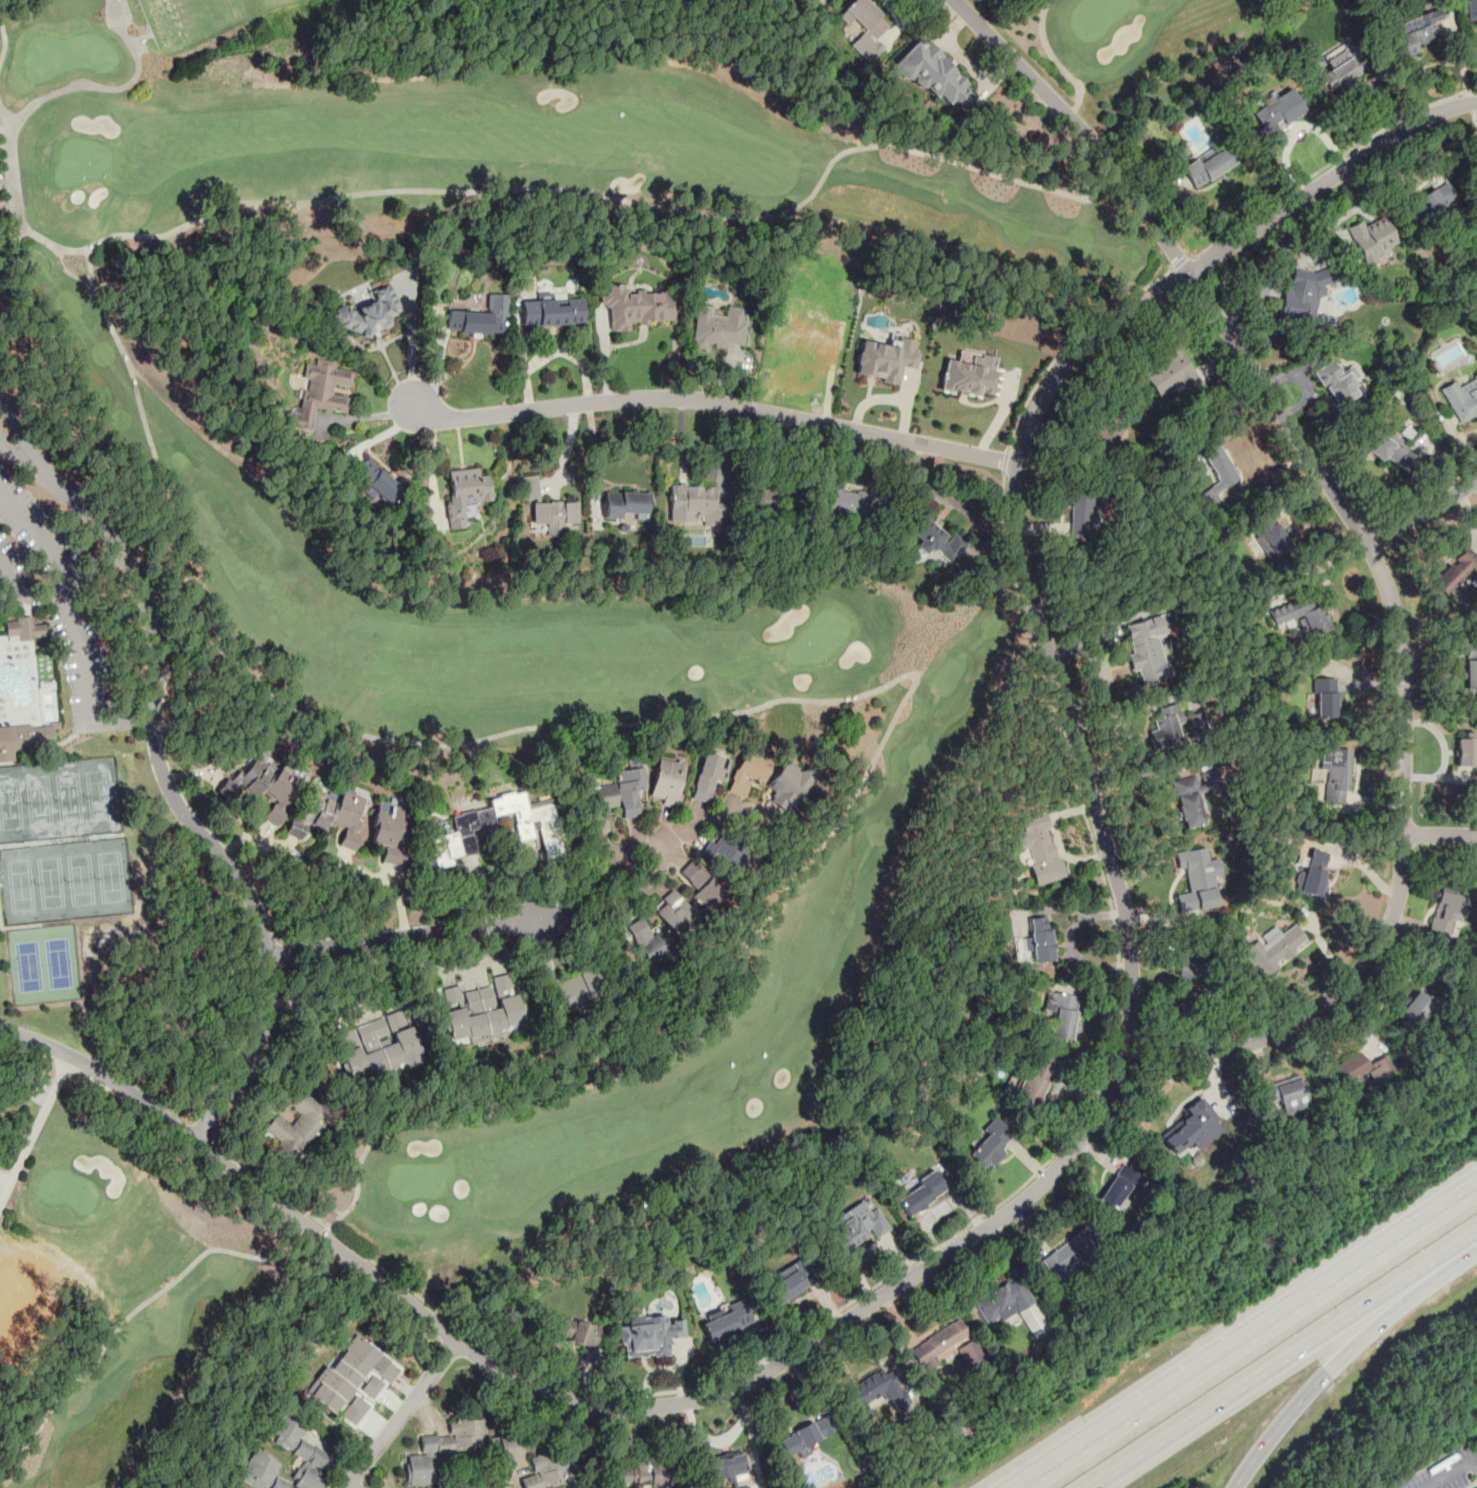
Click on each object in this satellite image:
building: (1470, 10)
building: (864, 27)
building: (1412, 32)
road: (3, 39)
road: (1052, 58)
building: (1341, 69)
building: (933, 74)
road: (111, 87)
road: (1071, 113)
road: (4, 116)
building: (1276, 116)
road: (1081, 137)
building: (1209, 165)
road: (1328, 165)
road: (545, 188)
building: (1426, 206)
building: (1372, 239)
road: (1180, 262)
road: (69, 272)
road: (1271, 280)
building: (1301, 296)
building: (639, 307)
building: (367, 312)
building: (551, 314)
building: (479, 319)
building: (719, 327)
building: (805, 329)
road: (1069, 343)
road: (411, 348)
building: (886, 359)
road: (439, 366)
building: (1172, 373)
building: (971, 377)
building: (1337, 384)
building: (320, 394)
building: (1463, 400)
road: (716, 401)
road: (18, 432)
building: (1100, 432)
building: (1386, 445)
road: (566, 451)
road: (16, 457)
road: (1003, 461)
road: (432, 468)
building: (1216, 473)
building: (377, 482)
building: (528, 487)
road: (926, 487)
building: (467, 491)
building: (771, 496)
building: (842, 501)
building: (694, 505)
building: (625, 507)
road: (1423, 513)
building: (551, 516)
building: (1083, 517)
building: (1269, 537)
building: (934, 543)
road: (1372, 552)
road: (99, 565)
road: (70, 572)
building: (1455, 572)
building: (1300, 616)
park: (403, 617)
building: (24, 629)
building: (1145, 649)
road: (82, 655)
building: (1471, 667)
building: (44, 668)
building: (1322, 697)
road: (775, 701)
road: (123, 723)
building: (1176, 726)
building: (22, 739)
building: (1465, 750)
building: (1335, 773)
building: (746, 774)
building: (708, 778)
building: (667, 781)
building: (786, 785)
building: (276, 790)
building: (602, 790)
building: (629, 790)
park: (60, 796)
building: (1194, 796)
road: (177, 803)
building: (601, 811)
building: (332, 813)
road: (695, 822)
building: (390, 831)
road: (1440, 834)
building: (457, 838)
building: (551, 841)
building: (1039, 848)
building: (715, 851)
road: (662, 855)
building: (1314, 871)
park: (63, 881)
building: (1197, 881)
building: (701, 883)
road: (390, 886)
building: (673, 911)
building: (1447, 915)
road: (404, 935)
building: (649, 938)
building: (1039, 941)
building: (1274, 949)
park: (42, 964)
building: (1187, 975)
road: (380, 989)
building: (574, 990)
building: (1416, 1005)
building: (482, 1011)
building: (1063, 1016)
building: (380, 1046)
building: (1358, 1068)
building: (1035, 1078)
building: (1283, 1093)
building: (298, 1124)
road: (1086, 1128)
road: (35, 1129)
building: (1189, 1129)
building: (989, 1146)
building: (1120, 1187)
building: (920, 1193)
building: (856, 1227)
road: (320, 1236)
road: (940, 1243)
road: (1459, 1248)
building: (1069, 1253)
building: (789, 1281)
building: (1003, 1298)
road: (133, 1313)
road: (1383, 1315)
building: (725, 1321)
building: (577, 1332)
building: (647, 1335)
road: (1249, 1337)
building: (940, 1344)
road: (1265, 1372)
building: (350, 1384)
building: (879, 1391)
road: (400, 1416)
road: (1278, 1426)
building: (803, 1438)
building: (505, 1447)
building: (443, 1448)
building: (306, 1450)
building: (728, 1467)
building: (547, 1470)
parking lot: (1447, 1470)
road: (1452, 1471)
building: (645, 1474)
road: (350, 1485)
building: (501, 1486)
building: (741, 1486)
building: (234, 1487)
road: (1427, 1487)

